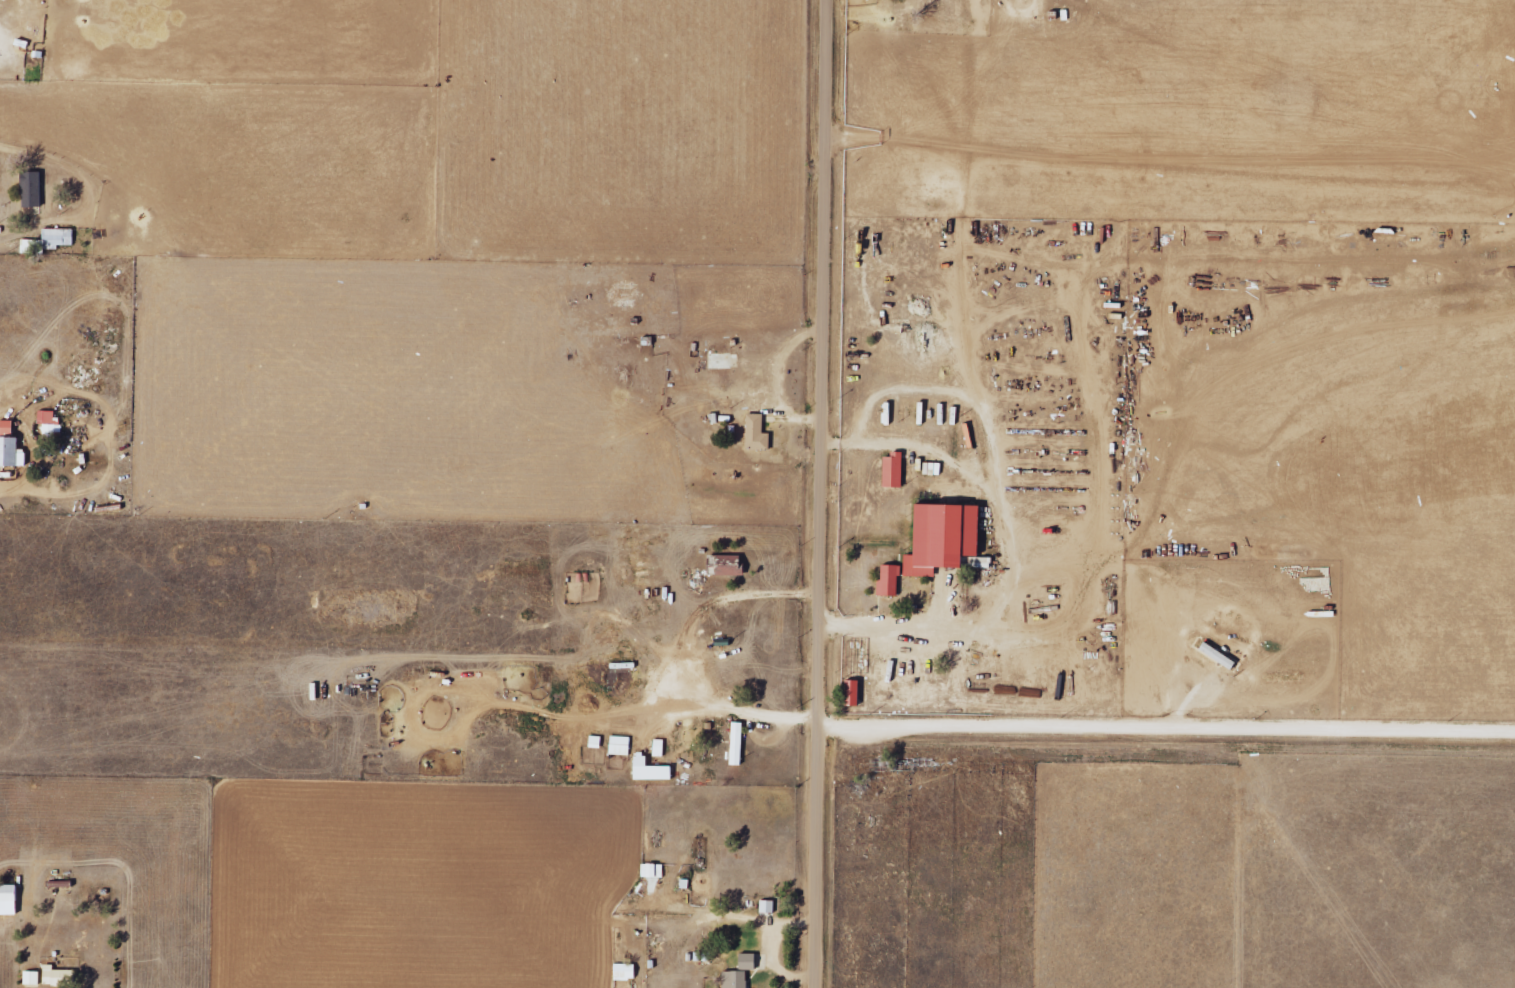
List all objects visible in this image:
building: (34, 189)
building: (759, 433)
building: (12, 446)
building: (896, 471)
road: (820, 493)
building: (949, 540)
building: (731, 566)
building: (892, 581)
building: (855, 693)
road: (1166, 726)
building: (599, 741)
building: (739, 744)
building: (622, 746)
building: (654, 770)
building: (655, 871)
building: (10, 900)
building: (750, 962)
building: (627, 972)
building: (60, 977)
building: (34, 978)
building: (737, 980)

